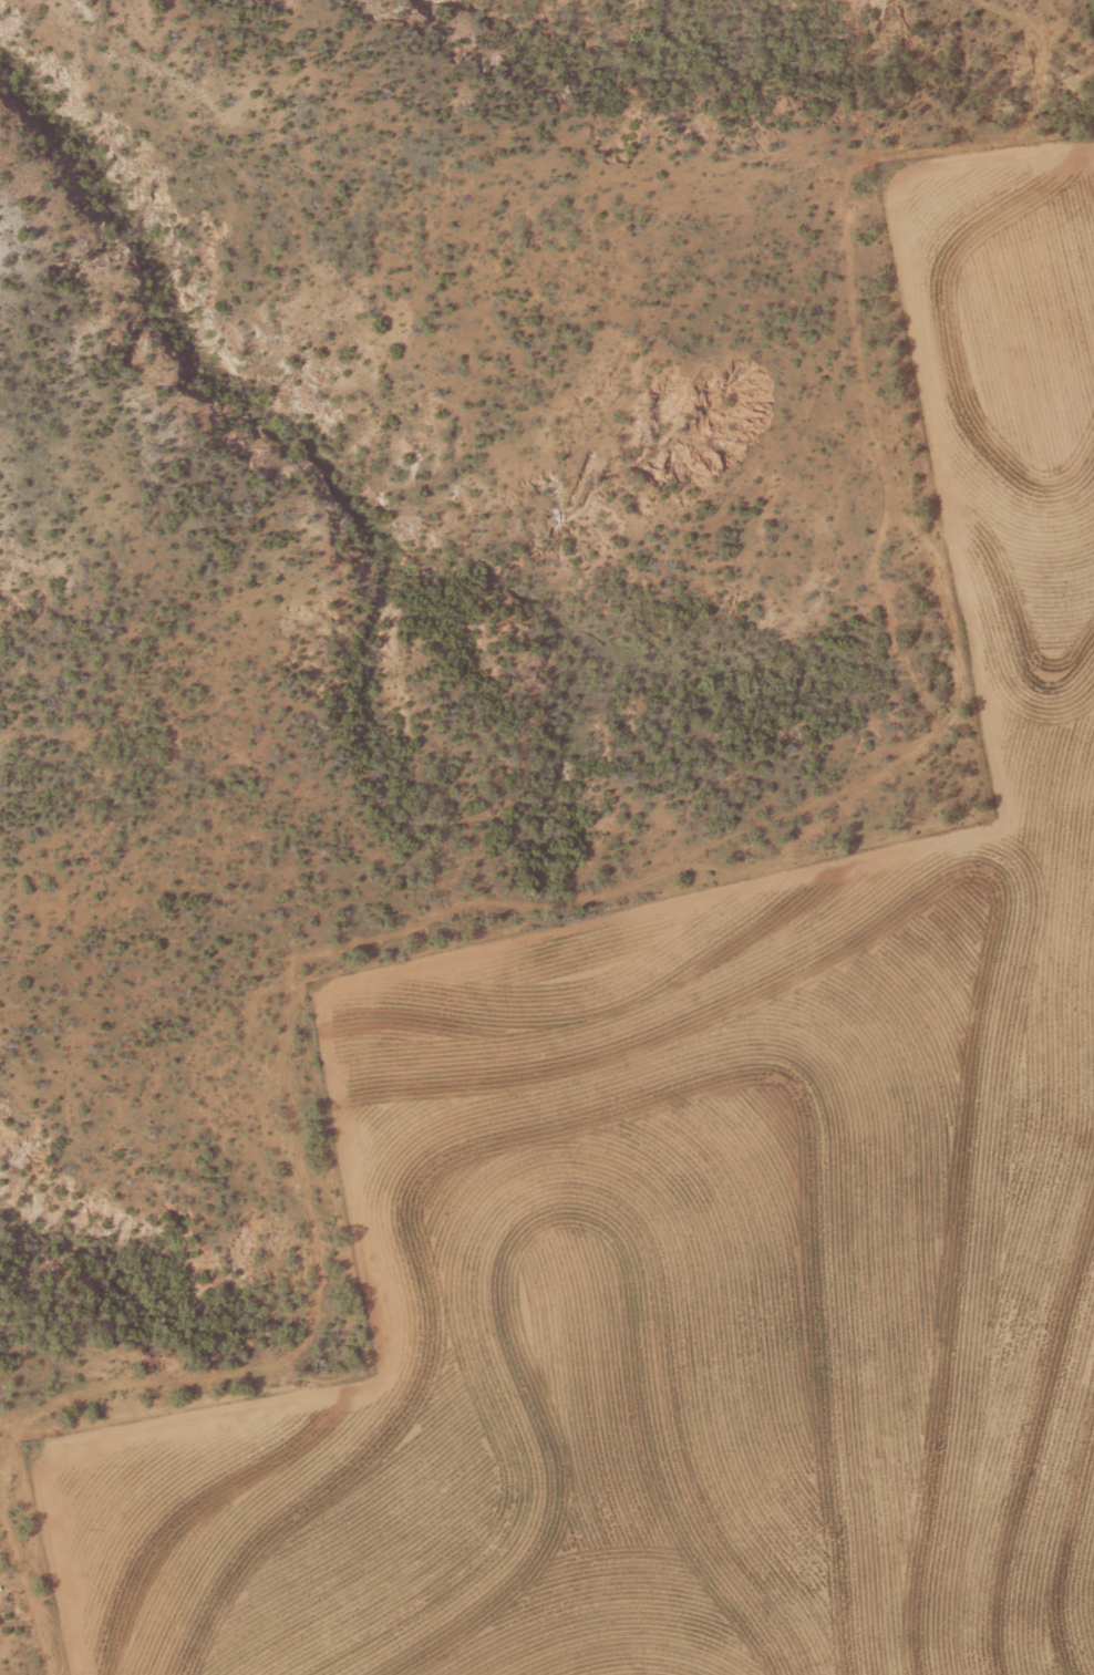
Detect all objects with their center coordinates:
road: (11, 1641)

